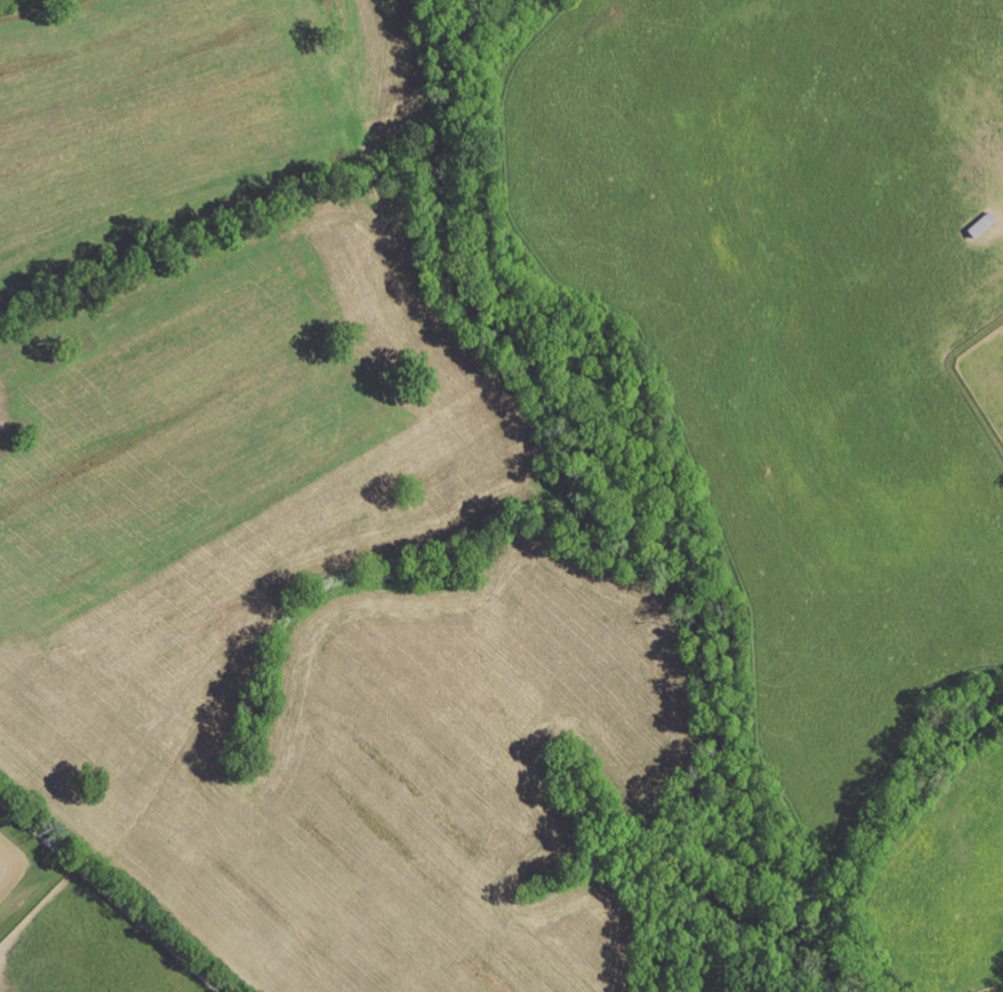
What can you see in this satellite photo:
road: (110, 897)

